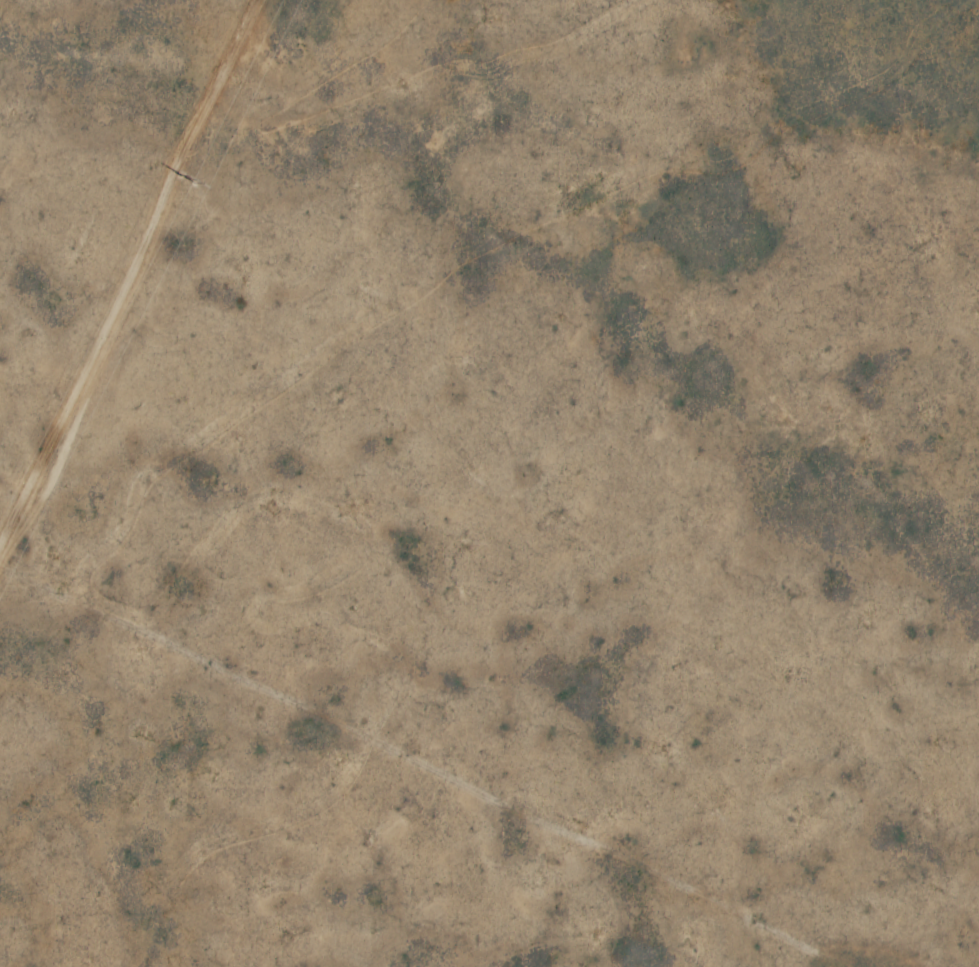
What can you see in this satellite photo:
power tower: (187, 178)
road: (489, 608)

